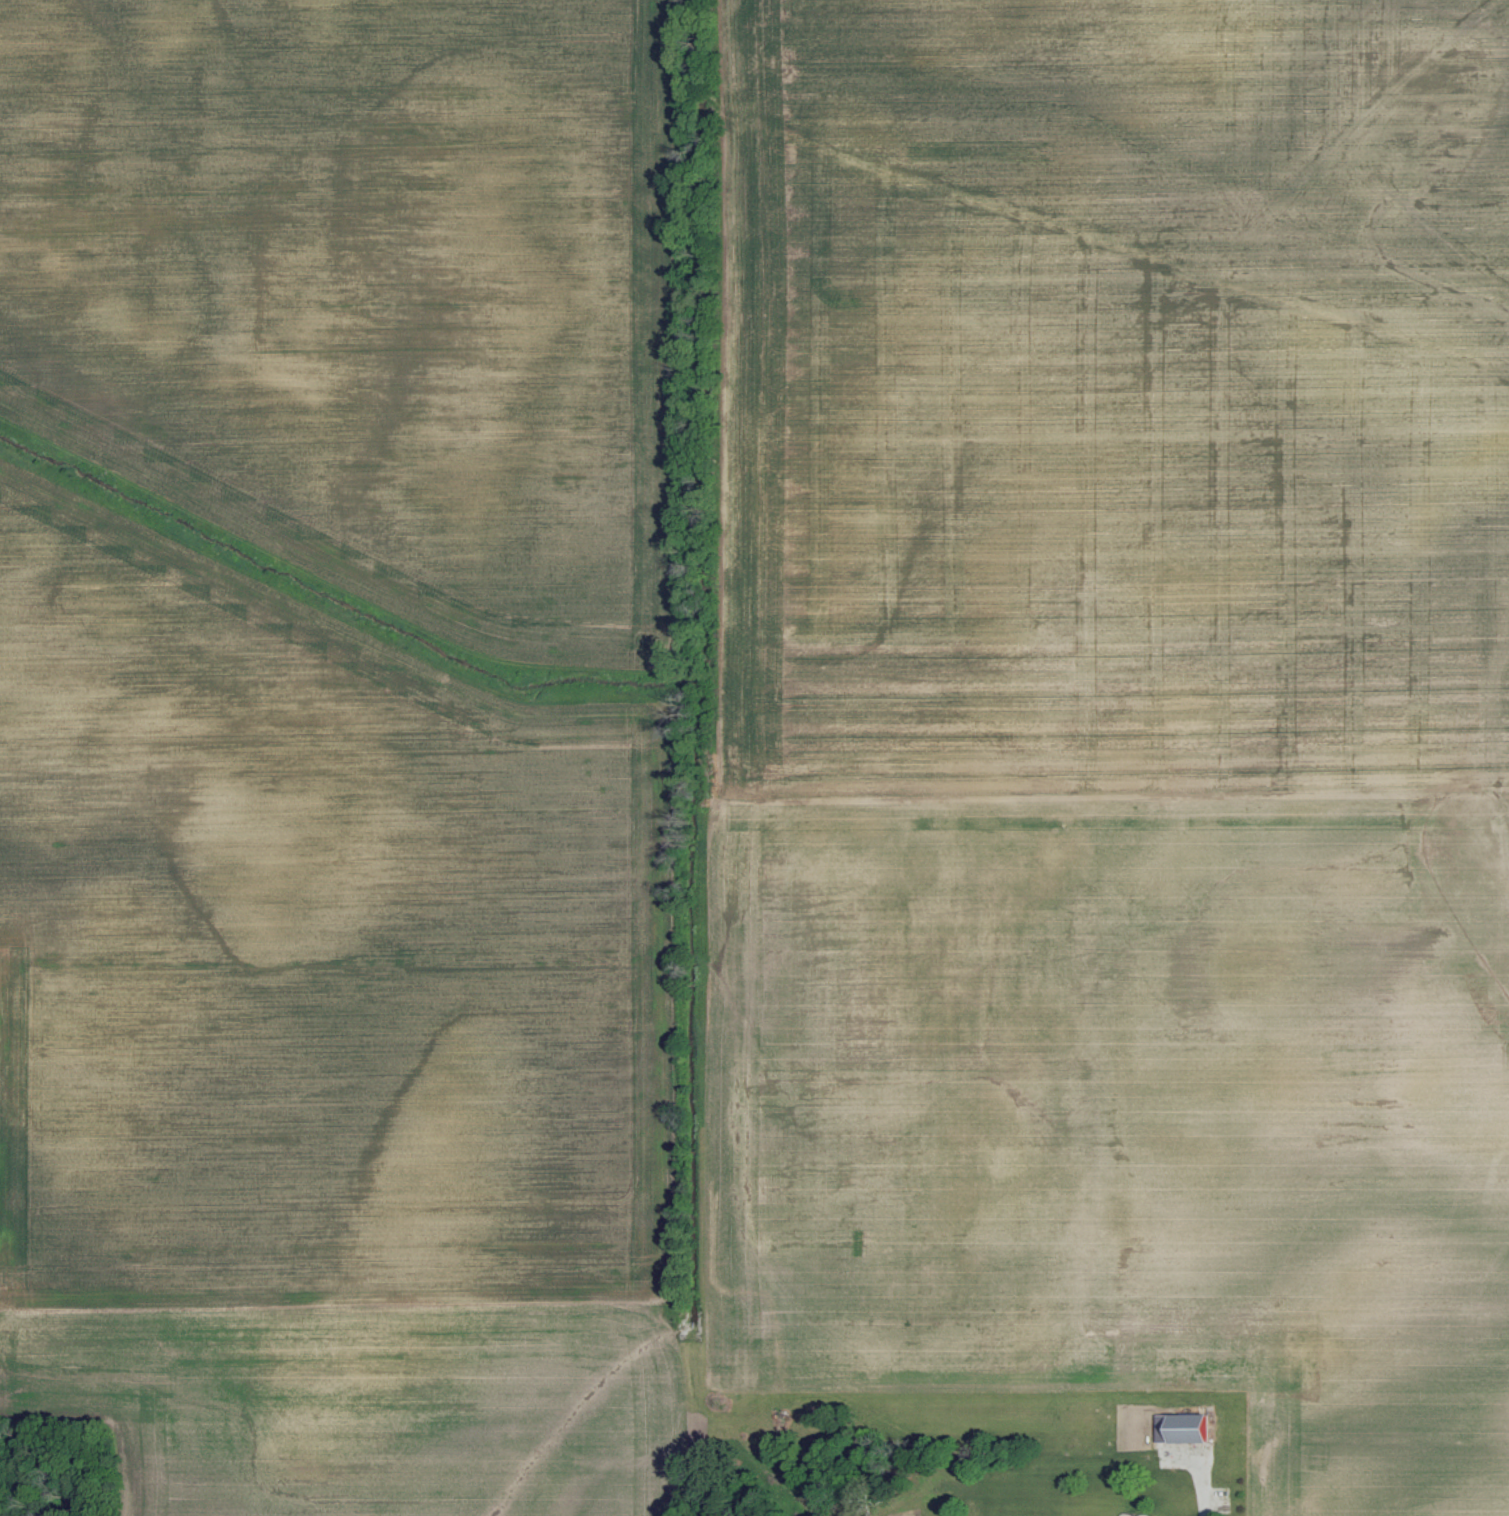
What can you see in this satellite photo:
crop: (371, 302)
crop: (1098, 396)
crop: (322, 946)
crop: (1117, 1113)
crop: (371, 1406)
building: (1184, 1427)
road: (1205, 1488)

